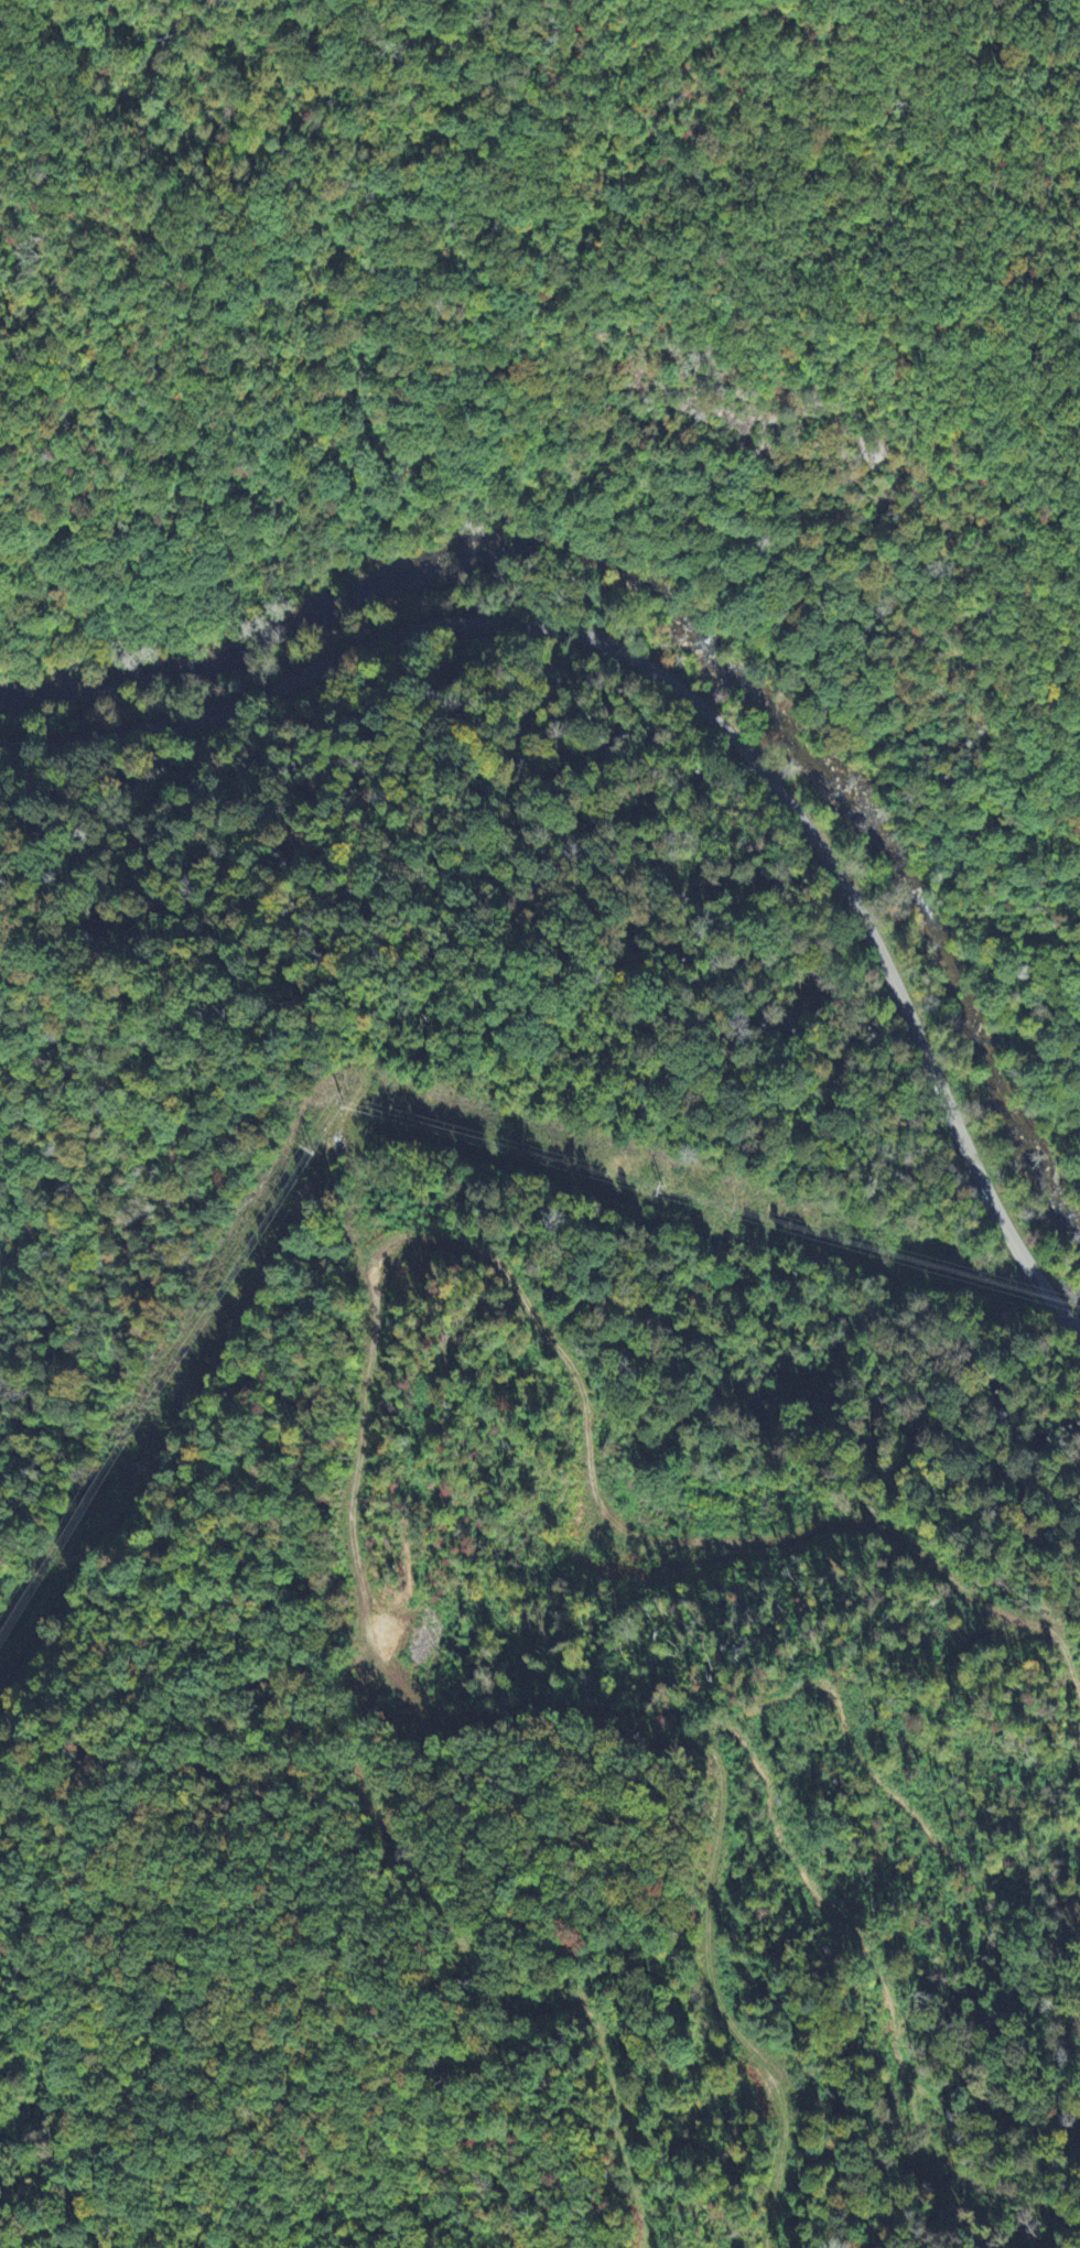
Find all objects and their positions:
river: (695, 619)
road: (696, 707)

